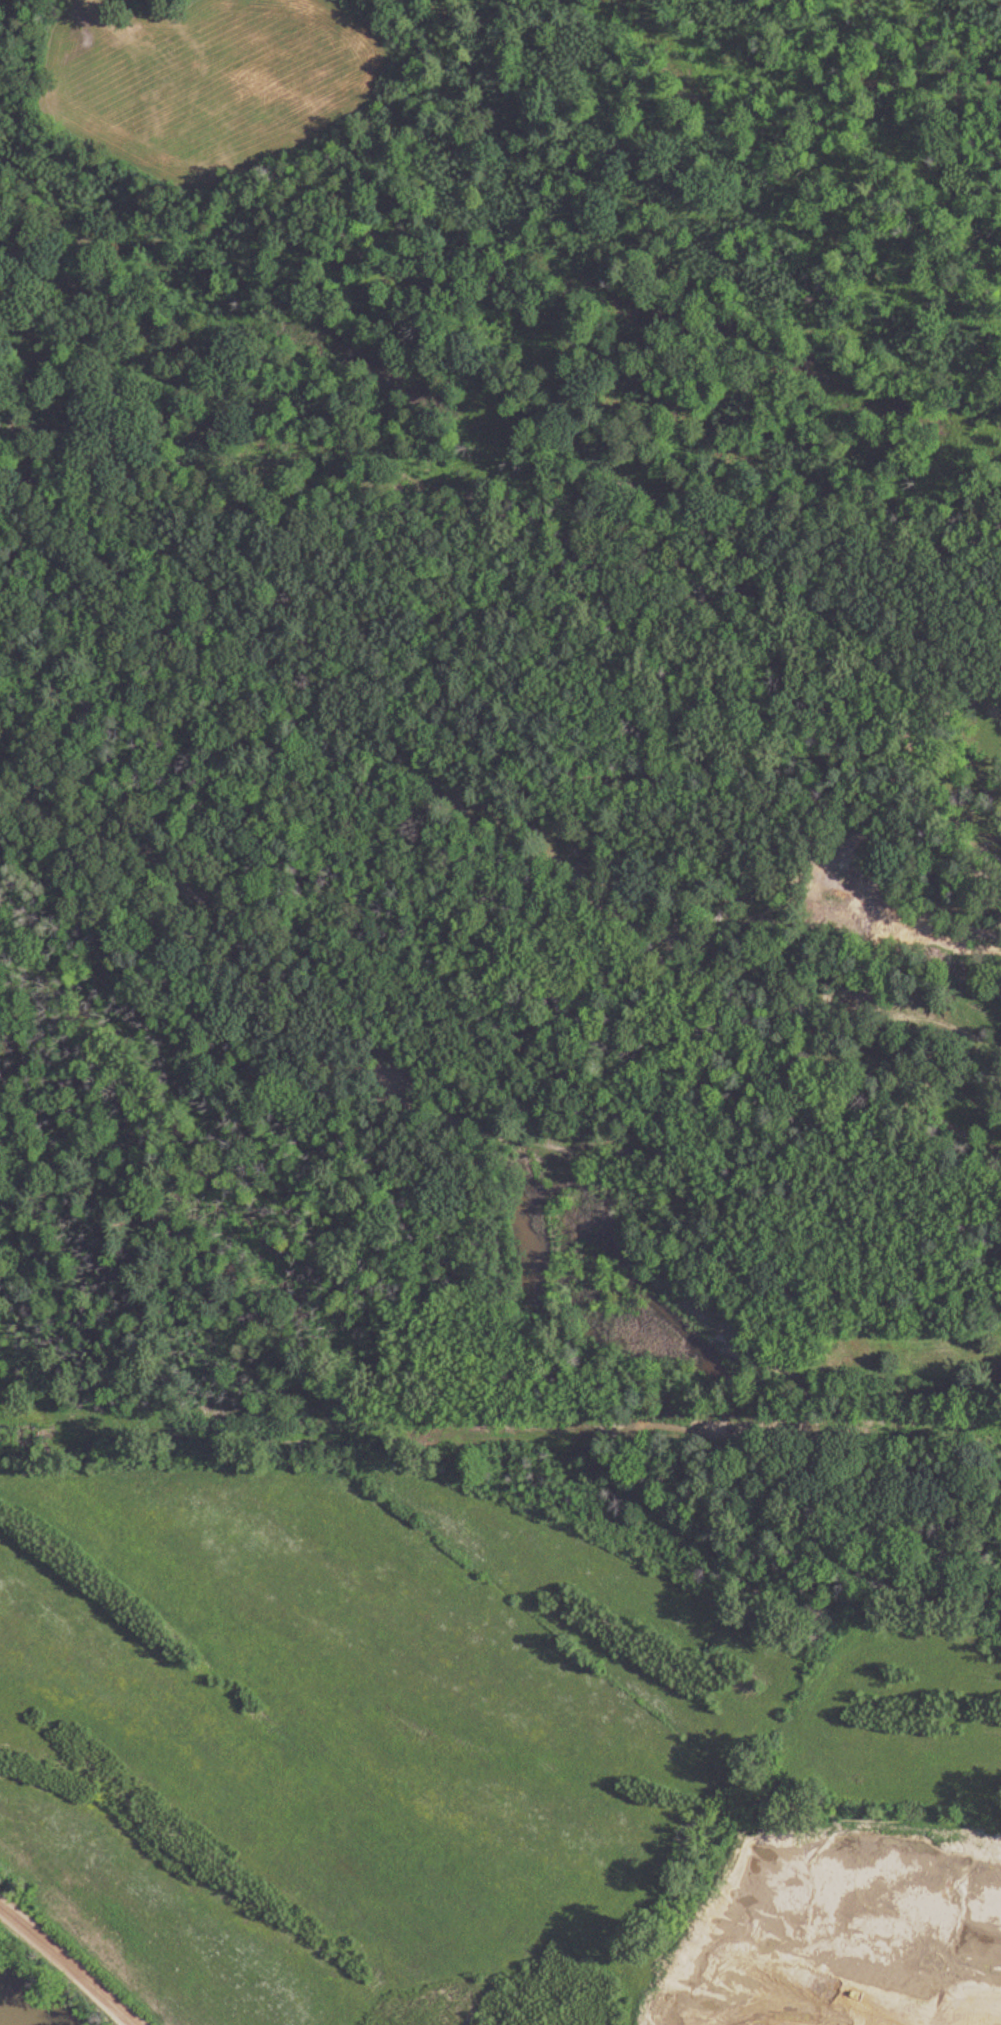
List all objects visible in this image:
road: (44, 373)
road: (66, 1965)

